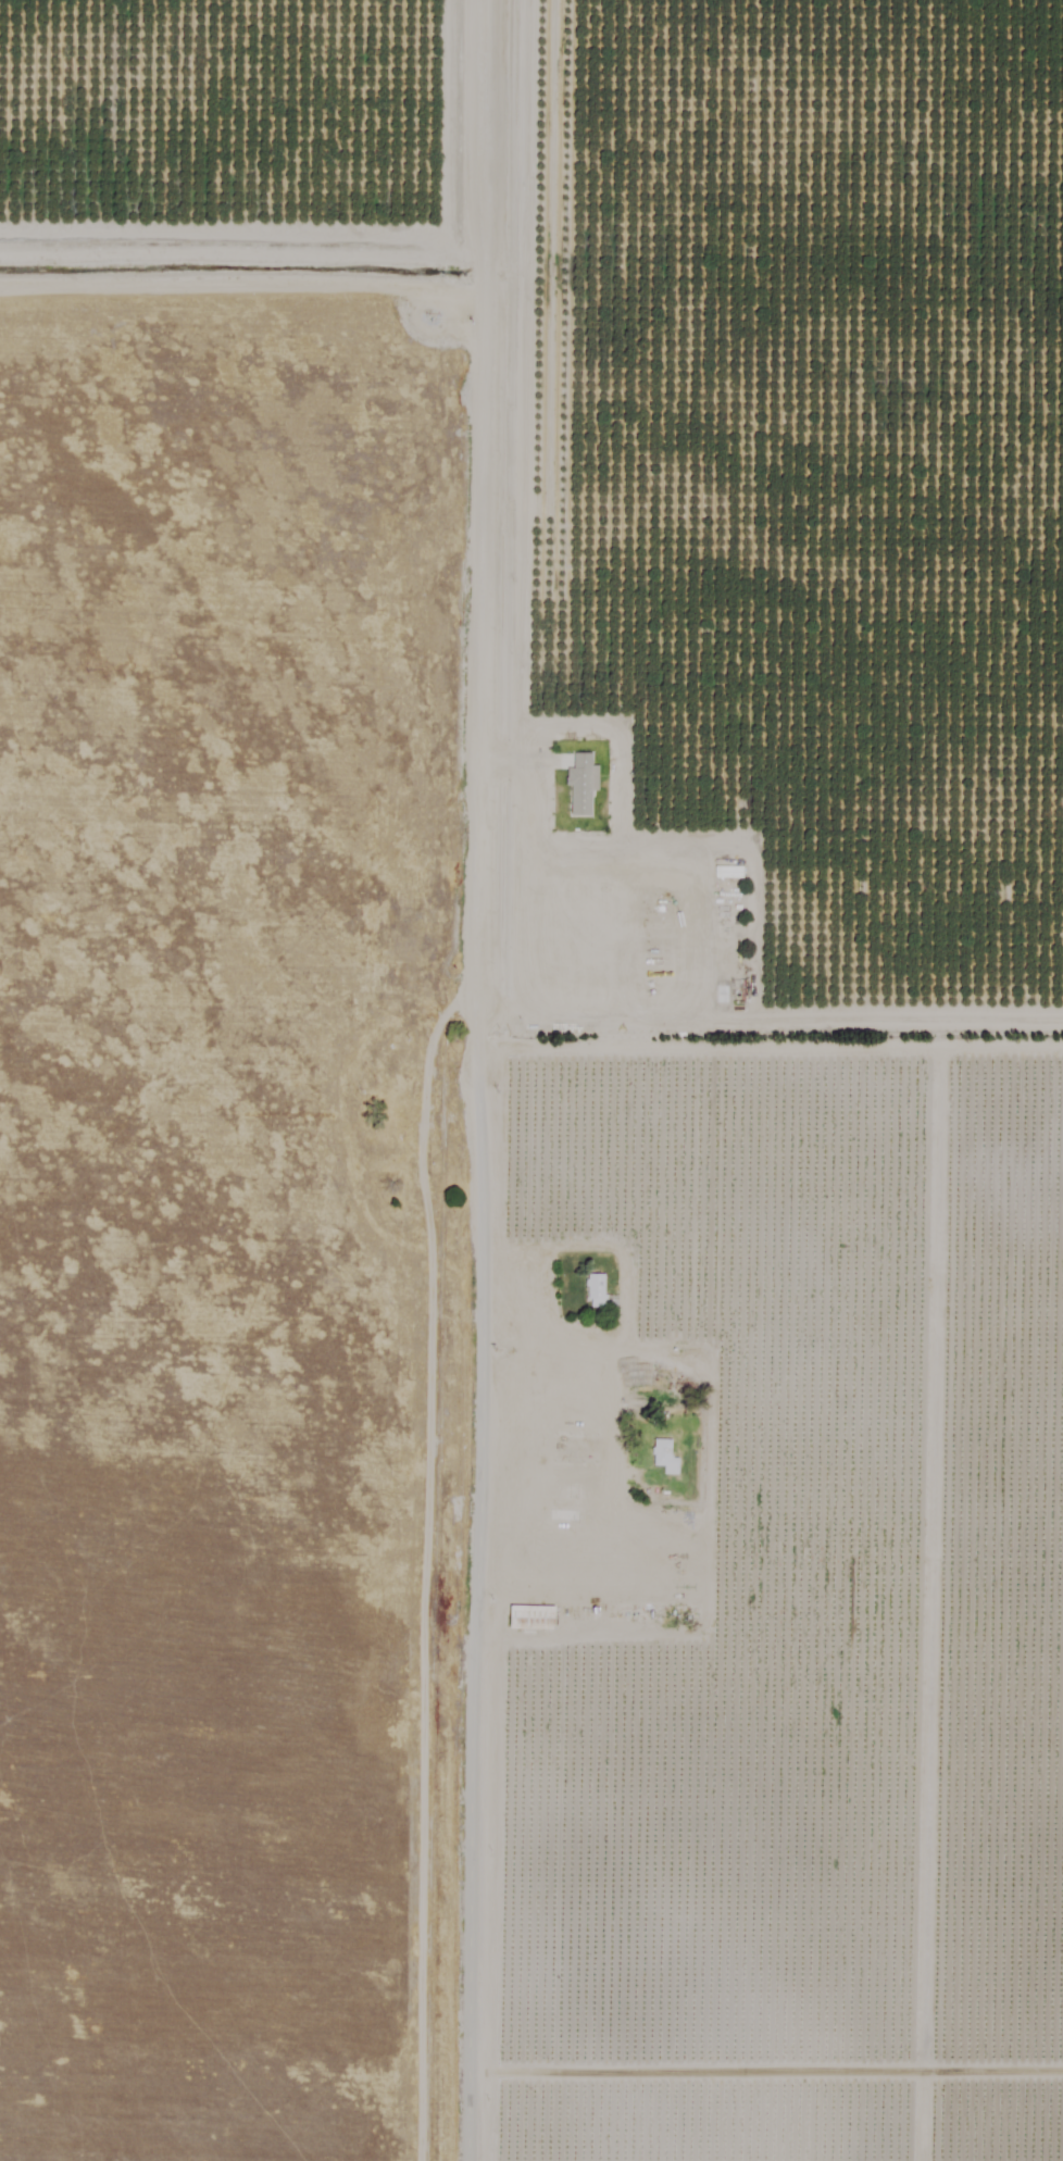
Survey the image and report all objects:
road: (486, 495)
building: (578, 783)
crop: (238, 911)
building: (592, 1285)
building: (662, 1454)
road: (475, 1575)
building: (528, 1615)
crop: (230, 1658)
crop: (232, 1888)
crop: (230, 2083)

